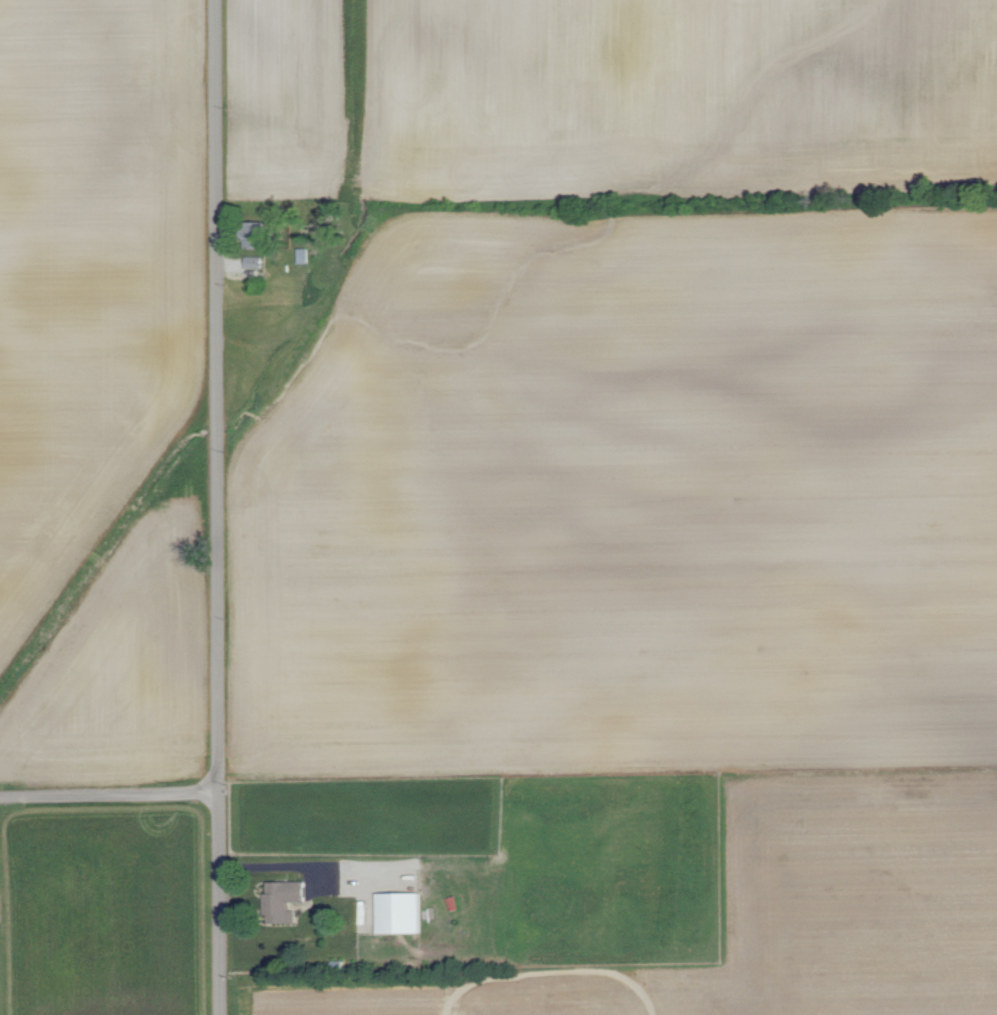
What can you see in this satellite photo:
building: (260, 233)
building: (254, 262)
road: (213, 507)
road: (108, 791)
road: (266, 866)
building: (286, 900)
building: (399, 912)

